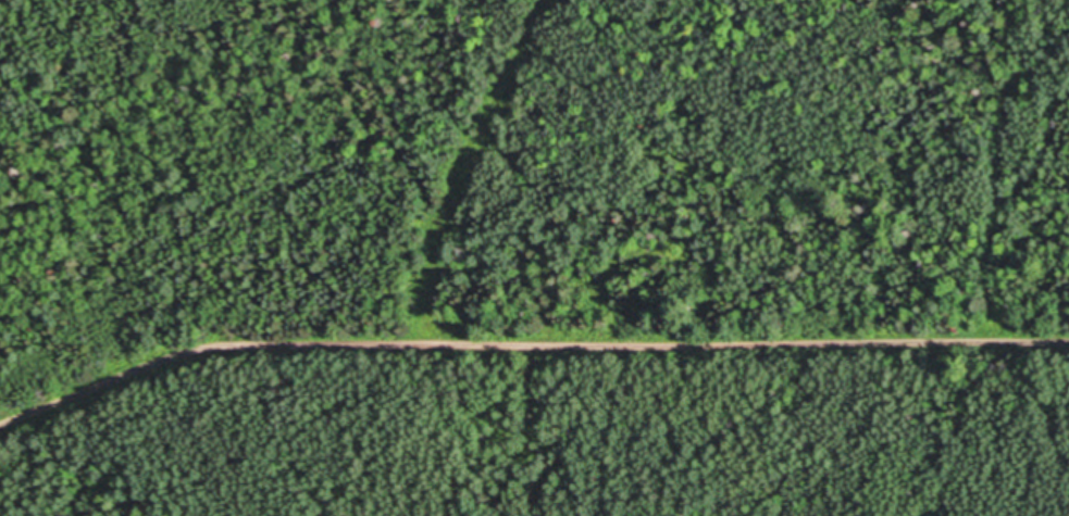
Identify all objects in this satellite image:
road: (524, 360)
road: (222, 441)

